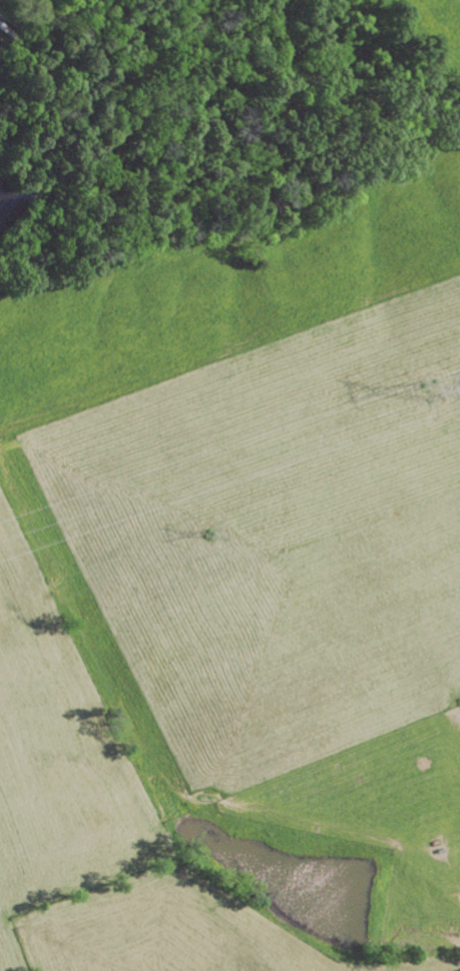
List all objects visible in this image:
power tower: (429, 393)

